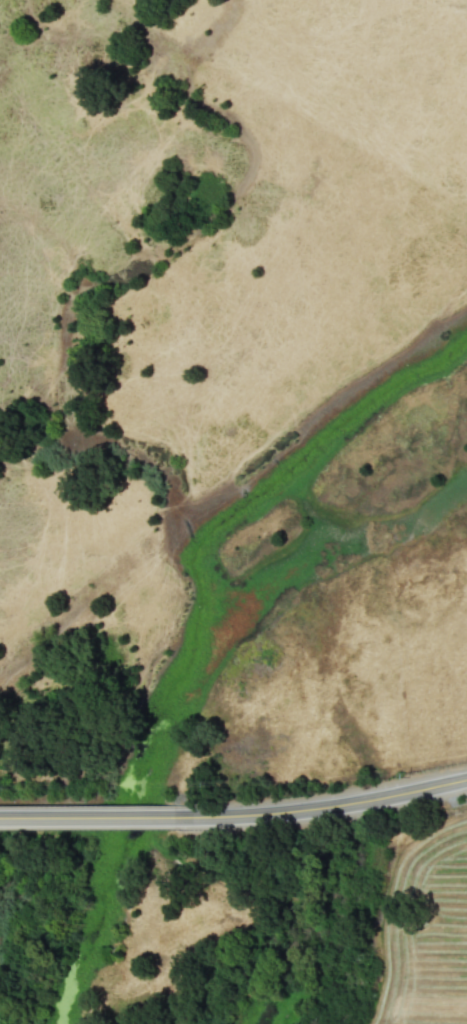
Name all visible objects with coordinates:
road: (235, 815)
crop: (67, 879)

